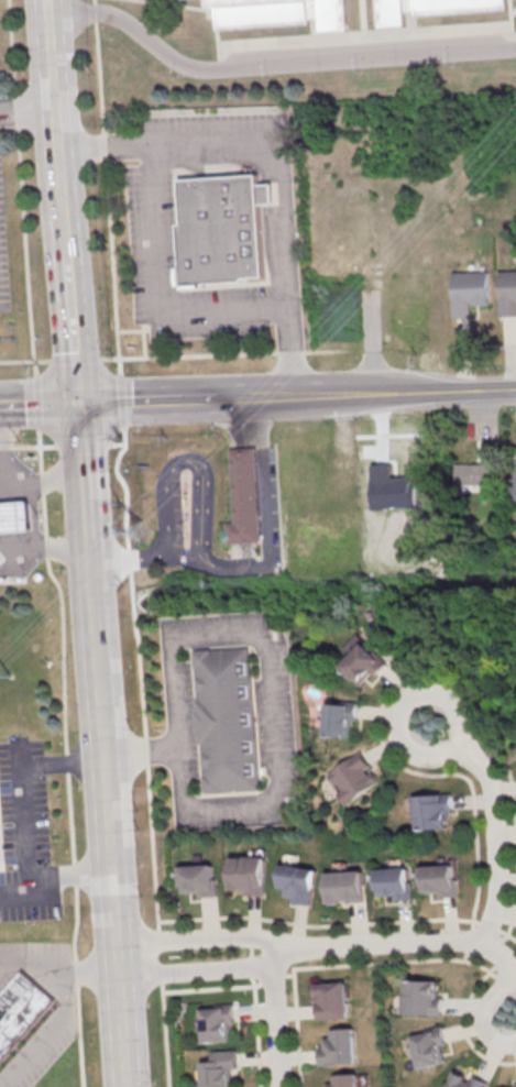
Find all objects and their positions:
road: (44, 7)
building: (431, 8)
building: (279, 13)
road: (271, 65)
road: (28, 107)
road: (56, 109)
road: (278, 167)
building: (221, 229)
road: (67, 231)
road: (114, 286)
building: (469, 293)
building: (507, 294)
road: (154, 295)
road: (76, 330)
road: (171, 358)
road: (388, 394)
road: (173, 400)
road: (41, 404)
traffic signals: (84, 404)
road: (4, 426)
road: (185, 462)
building: (477, 474)
road: (42, 481)
road: (87, 483)
road: (1, 487)
building: (246, 495)
road: (268, 514)
building: (14, 518)
power tower: (142, 530)
road: (45, 545)
road: (47, 545)
road: (130, 560)
building: (363, 661)
building: (341, 718)
building: (226, 722)
road: (274, 733)
road: (459, 747)
building: (353, 777)
road: (24, 801)
building: (432, 811)
road: (109, 824)
road: (153, 861)
building: (246, 876)
road: (70, 877)
building: (197, 882)
building: (437, 882)
building: (296, 885)
building: (393, 885)
building: (343, 889)
road: (197, 940)
road: (399, 941)
road: (350, 964)
road: (58, 970)
road: (199, 971)
building: (422, 997)
building: (332, 1000)
building: (19, 1009)
road: (254, 1015)
road: (483, 1017)
road: (275, 1019)
building: (218, 1023)
road: (45, 1031)
building: (338, 1047)
building: (429, 1047)
building: (221, 1069)
building: (464, 1079)
building: (343, 1080)
building: (507, 1085)

